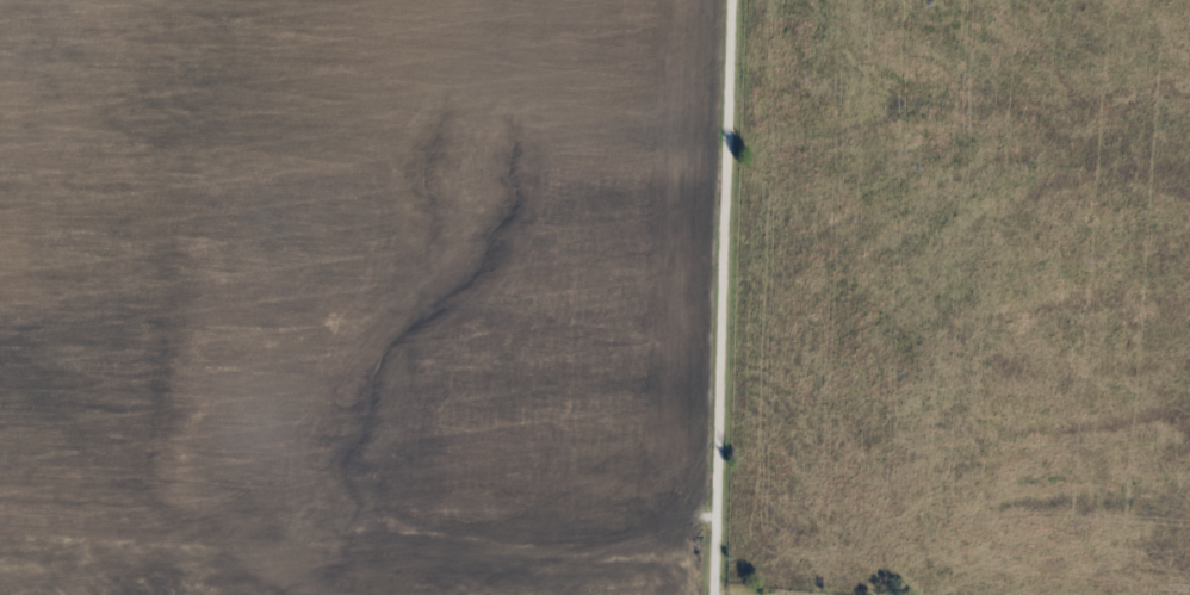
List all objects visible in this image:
road: (718, 297)

